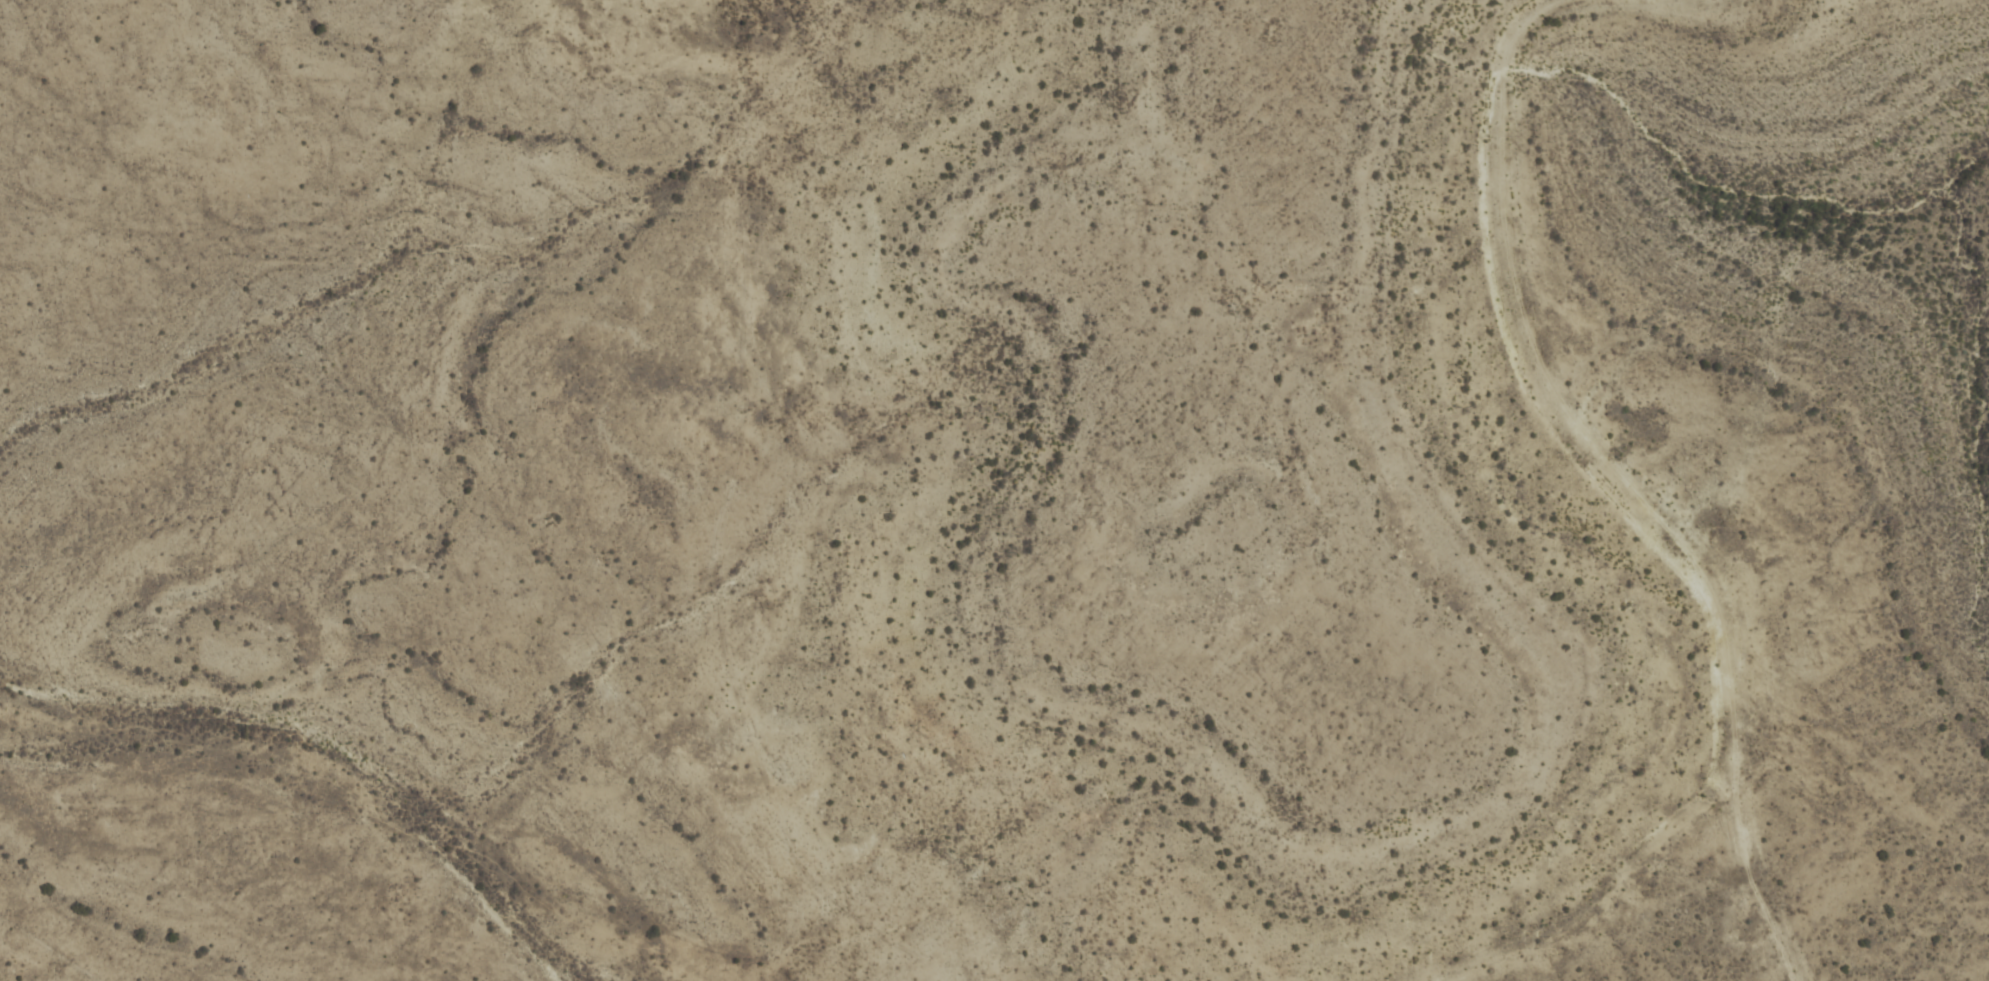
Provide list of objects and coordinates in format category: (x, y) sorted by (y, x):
road: (1544, 400)
park: (994, 490)
road: (1754, 878)

